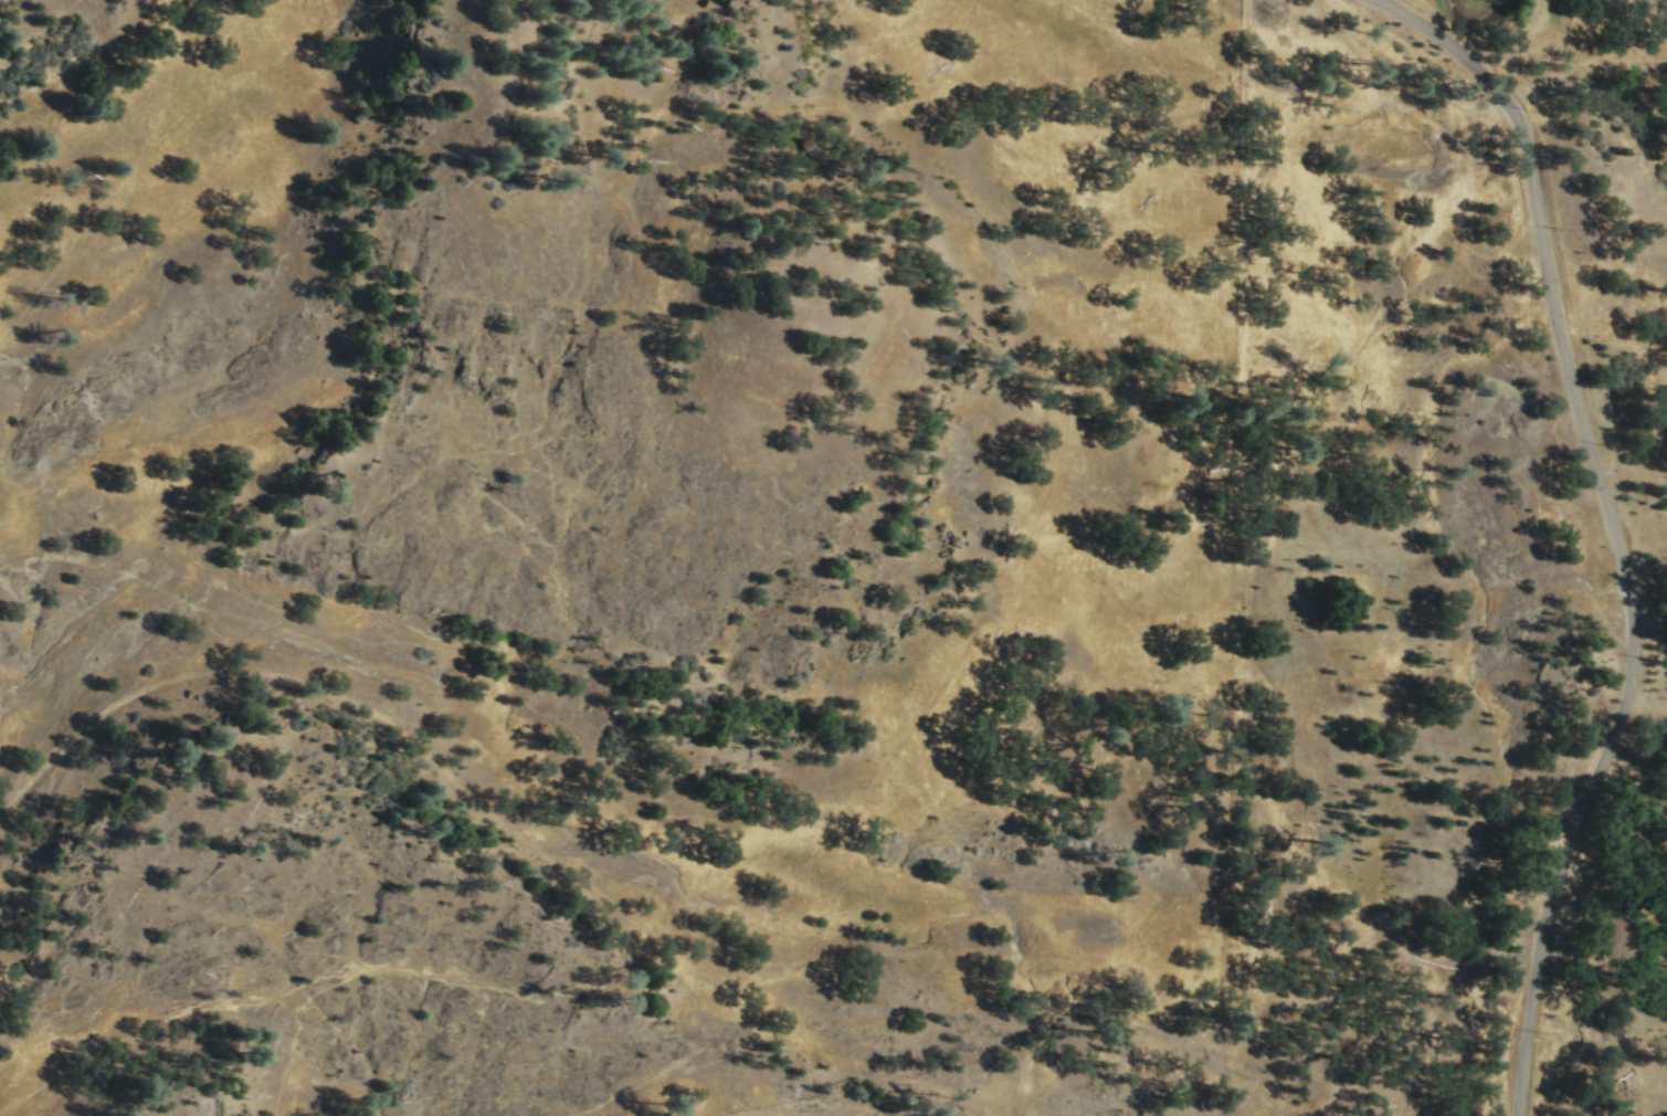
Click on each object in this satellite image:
road: (1613, 530)

